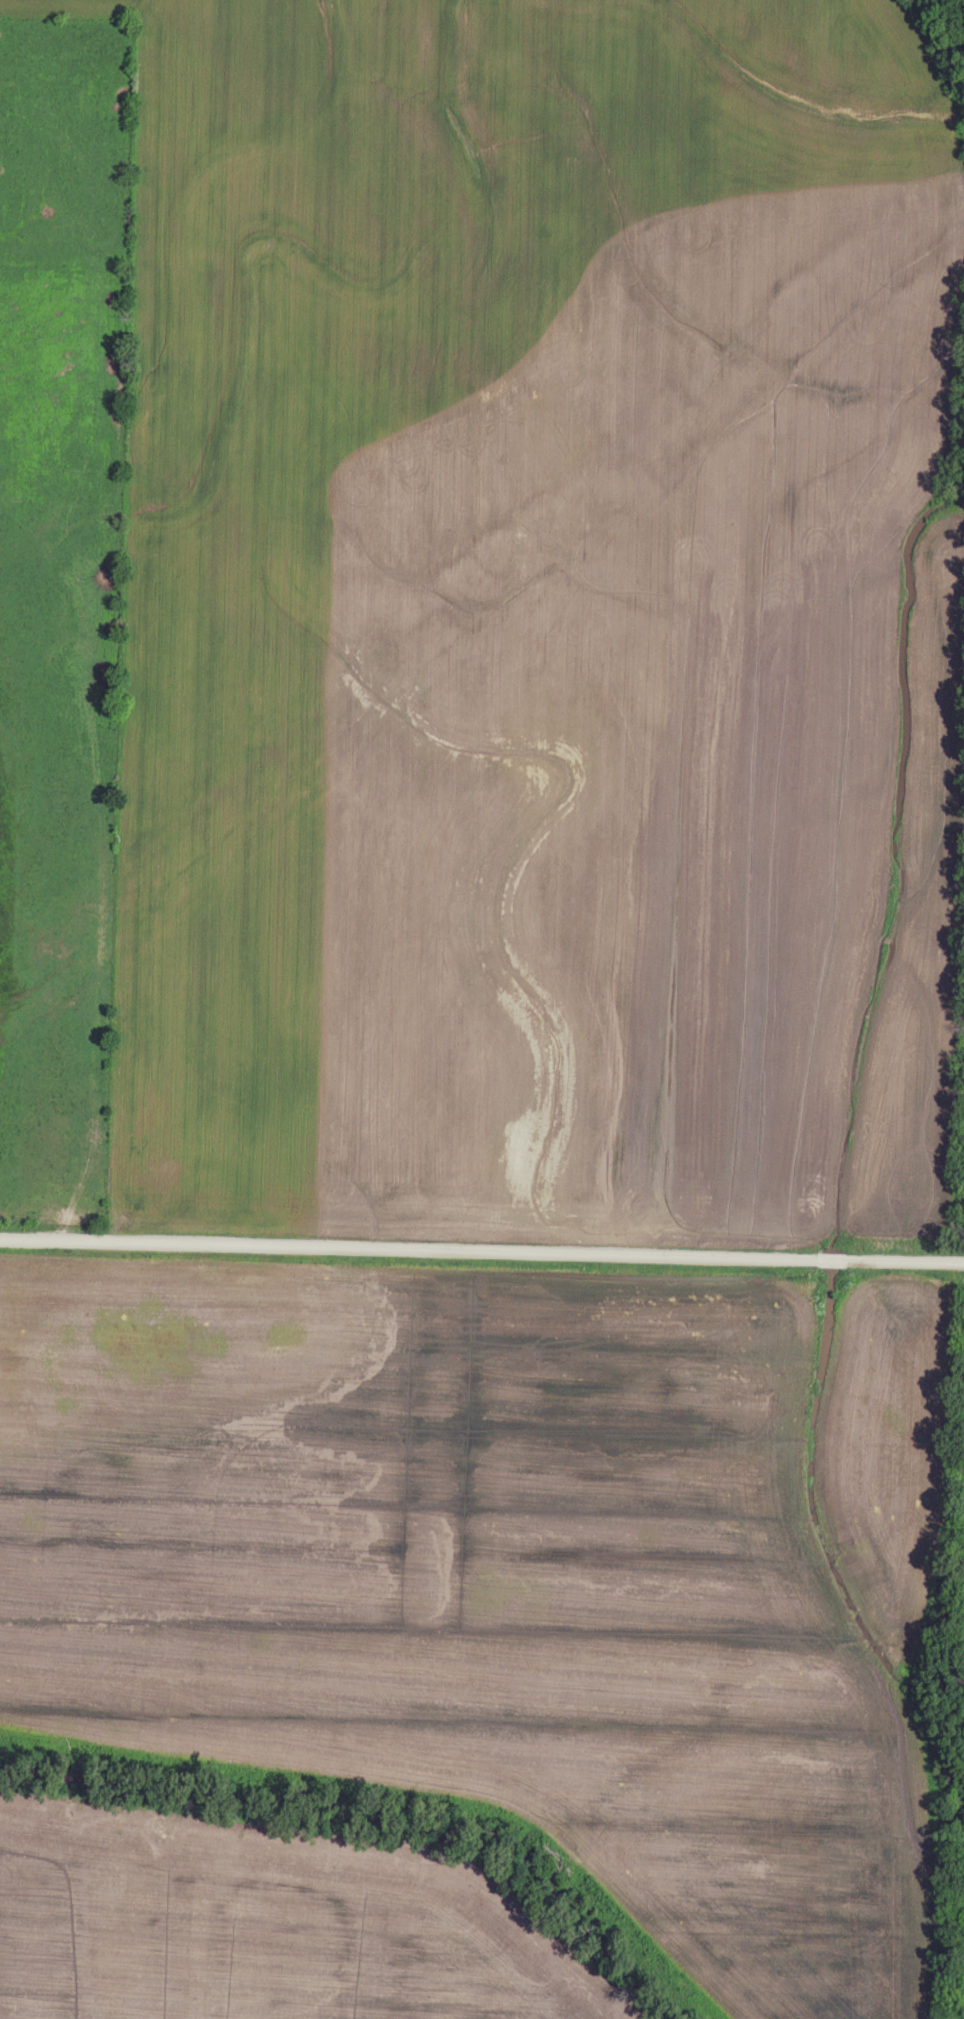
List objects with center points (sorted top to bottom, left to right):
road: (482, 1256)

